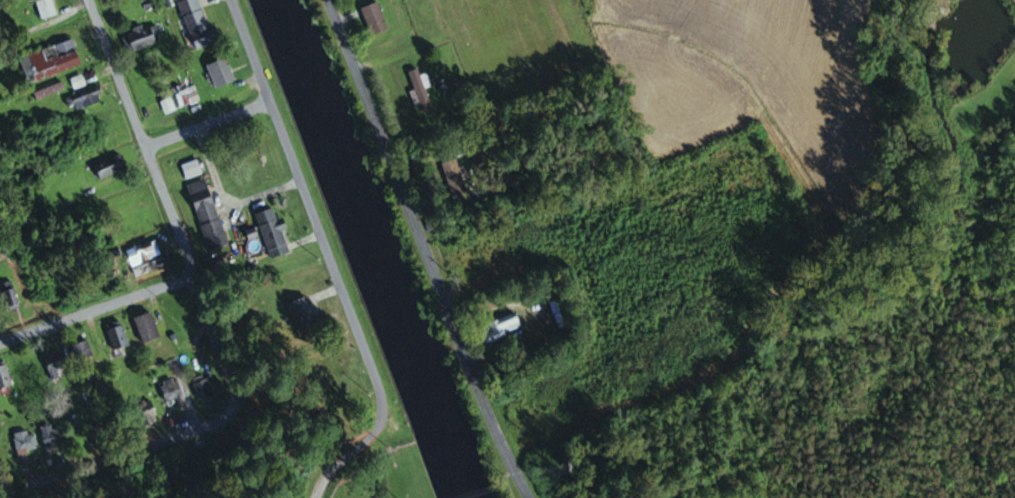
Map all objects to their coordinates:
building: (46, 8)
building: (375, 19)
building: (198, 24)
building: (140, 38)
building: (51, 61)
road: (1004, 67)
building: (221, 73)
building: (420, 91)
building: (84, 100)
road: (197, 106)
road: (139, 140)
building: (110, 167)
building: (454, 178)
building: (208, 214)
building: (273, 233)
road: (422, 249)
building: (143, 253)
road: (326, 261)
building: (149, 267)
building: (11, 296)
road: (105, 308)
building: (561, 312)
building: (304, 314)
building: (501, 327)
building: (147, 328)
building: (117, 335)
road: (8, 339)
building: (83, 351)
building: (55, 362)
building: (4, 376)
building: (203, 388)
building: (173, 393)
building: (148, 413)
road: (177, 431)
building: (53, 437)
building: (26, 442)

